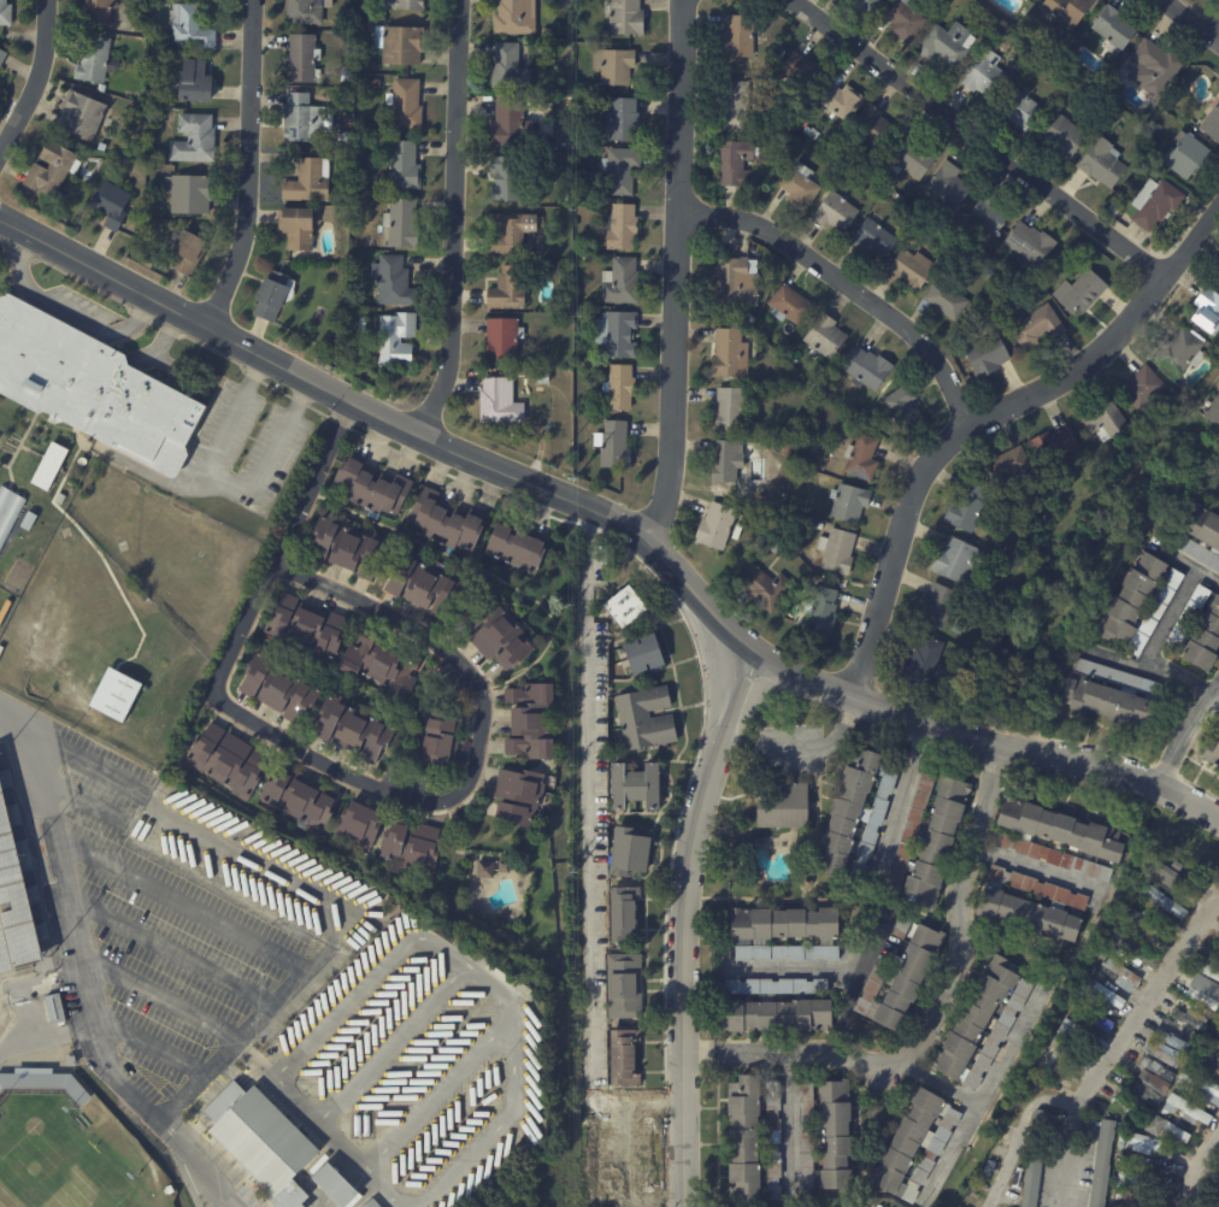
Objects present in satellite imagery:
building: (1025, 0)
building: (408, 5)
building: (866, 6)
building: (595, 8)
building: (353, 10)
building: (102, 11)
building: (310, 11)
building: (1066, 11)
building: (7, 13)
road: (1197, 14)
building: (518, 17)
building: (629, 17)
building: (902, 19)
building: (194, 28)
building: (1112, 30)
building: (549, 33)
building: (737, 37)
building: (946, 43)
building: (404, 45)
building: (538, 49)
building: (4, 58)
building: (306, 59)
building: (96, 60)
building: (619, 67)
building: (512, 69)
building: (728, 69)
building: (1152, 69)
building: (800, 71)
building: (982, 75)
road: (35, 76)
building: (1072, 77)
building: (0, 81)
building: (198, 83)
building: (376, 83)
building: (104, 88)
building: (740, 93)
building: (840, 101)
building: (408, 105)
building: (1020, 108)
building: (731, 111)
building: (84, 114)
building: (808, 116)
building: (306, 120)
building: (626, 120)
building: (512, 125)
building: (1211, 125)
building: (868, 129)
building: (812, 134)
road: (974, 135)
building: (346, 136)
building: (1064, 137)
building: (198, 140)
building: (105, 147)
building: (341, 155)
building: (1186, 155)
building: (911, 159)
building: (1102, 163)
building: (732, 164)
road: (249, 166)
building: (407, 166)
building: (55, 170)
building: (625, 171)
building: (510, 178)
building: (853, 181)
building: (312, 182)
building: (797, 187)
building: (944, 188)
building: (193, 193)
building: (893, 193)
building: (567, 199)
building: (30, 200)
building: (1154, 204)
building: (114, 205)
building: (834, 214)
building: (989, 214)
building: (66, 216)
road: (454, 218)
building: (402, 223)
building: (1117, 224)
building: (625, 228)
building: (301, 229)
building: (513, 232)
building: (1029, 240)
building: (871, 241)
building: (742, 249)
building: (749, 251)
building: (190, 252)
building: (151, 264)
road: (679, 265)
building: (349, 270)
building: (906, 272)
building: (1217, 273)
building: (393, 279)
building: (624, 282)
building: (734, 284)
building: (510, 287)
road: (848, 287)
building: (1079, 292)
building: (277, 296)
building: (942, 299)
building: (787, 306)
road: (65, 308)
building: (582, 311)
building: (1206, 311)
building: (352, 319)
building: (750, 319)
building: (972, 319)
building: (363, 320)
building: (1036, 328)
building: (340, 334)
building: (622, 335)
road: (164, 337)
building: (789, 337)
building: (396, 338)
building: (503, 338)
building: (823, 338)
building: (1179, 353)
building: (987, 354)
building: (726, 355)
building: (866, 370)
building: (544, 376)
building: (819, 383)
building: (1141, 387)
building: (92, 389)
building: (623, 389)
building: (500, 400)
building: (729, 410)
building: (901, 411)
building: (1213, 411)
building: (861, 413)
road: (983, 418)
building: (865, 420)
building: (1102, 420)
parking lot: (252, 426)
parking lot: (2, 438)
building: (1055, 447)
building: (617, 448)
power tower: (573, 451)
building: (785, 451)
building: (859, 459)
building: (726, 461)
building: (53, 466)
building: (1006, 467)
road: (149, 473)
road: (314, 481)
road: (231, 483)
building: (372, 489)
building: (63, 493)
building: (848, 504)
building: (965, 507)
building: (1020, 508)
building: (10, 512)
road: (624, 514)
building: (31, 520)
building: (447, 524)
building: (715, 526)
building: (819, 526)
building: (1199, 531)
building: (352, 547)
building: (519, 547)
building: (836, 553)
building: (956, 560)
road: (1188, 561)
building: (814, 579)
building: (431, 584)
building: (762, 589)
building: (141, 593)
building: (1139, 601)
building: (629, 605)
building: (134, 606)
building: (936, 606)
building: (821, 613)
road: (1170, 616)
building: (1186, 618)
building: (310, 629)
building: (505, 634)
building: (1203, 640)
building: (647, 655)
building: (920, 665)
building: (385, 667)
road: (1152, 669)
building: (284, 688)
building: (116, 694)
building: (1106, 695)
road: (1, 702)
building: (648, 718)
building: (537, 720)
building: (357, 728)
road: (1189, 736)
building: (442, 737)
road: (283, 742)
road: (823, 743)
building: (1212, 752)
building: (230, 761)
building: (637, 787)
building: (524, 796)
building: (304, 800)
building: (782, 803)
road: (895, 811)
building: (852, 818)
building: (360, 823)
building: (926, 840)
building: (1056, 840)
road: (587, 846)
building: (414, 847)
building: (635, 853)
building: (503, 864)
building: (485, 866)
road: (1033, 867)
road: (263, 871)
building: (1167, 876)
building: (806, 881)
building: (16, 891)
building: (1162, 902)
road: (960, 907)
building: (1035, 907)
road: (184, 911)
building: (629, 914)
parking lot: (175, 917)
stadium: (16, 922)
road: (682, 925)
building: (1146, 925)
building: (785, 934)
building: (1107, 949)
building: (1130, 949)
building: (1218, 950)
road: (175, 959)
road: (790, 966)
building: (1208, 968)
road: (478, 973)
building: (896, 973)
road: (90, 975)
building: (1120, 975)
building: (629, 987)
building: (1200, 989)
building: (1103, 996)
building: (776, 1007)
road: (846, 1008)
building: (59, 1009)
building: (1091, 1019)
building: (979, 1020)
building: (1192, 1020)
road: (207, 1029)
building: (1083, 1035)
building: (1214, 1037)
building: (1173, 1041)
road: (389, 1043)
road: (1117, 1046)
road: (736, 1047)
road: (155, 1053)
road: (847, 1053)
building: (630, 1059)
building: (1166, 1060)
building: (75, 1061)
building: (1058, 1061)
building: (1212, 1064)
building: (1155, 1068)
building: (1154, 1081)
road: (941, 1082)
building: (1202, 1085)
building: (46, 1087)
building: (1067, 1087)
road: (985, 1091)
road: (437, 1093)
building: (1141, 1095)
building: (1186, 1111)
road: (789, 1123)
road: (318, 1126)
building: (1166, 1129)
building: (826, 1134)
building: (263, 1140)
building: (749, 1140)
building: (914, 1142)
building: (1142, 1142)
stadium: (73, 1149)
park: (63, 1159)
building: (1032, 1161)
building: (1142, 1162)
building: (1101, 1164)
road: (1200, 1170)
building: (1218, 1171)
building: (1217, 1178)
building: (1133, 1180)
building: (335, 1184)
building: (1167, 1184)
building: (172, 1190)
building: (1138, 1199)
building: (371, 1203)

